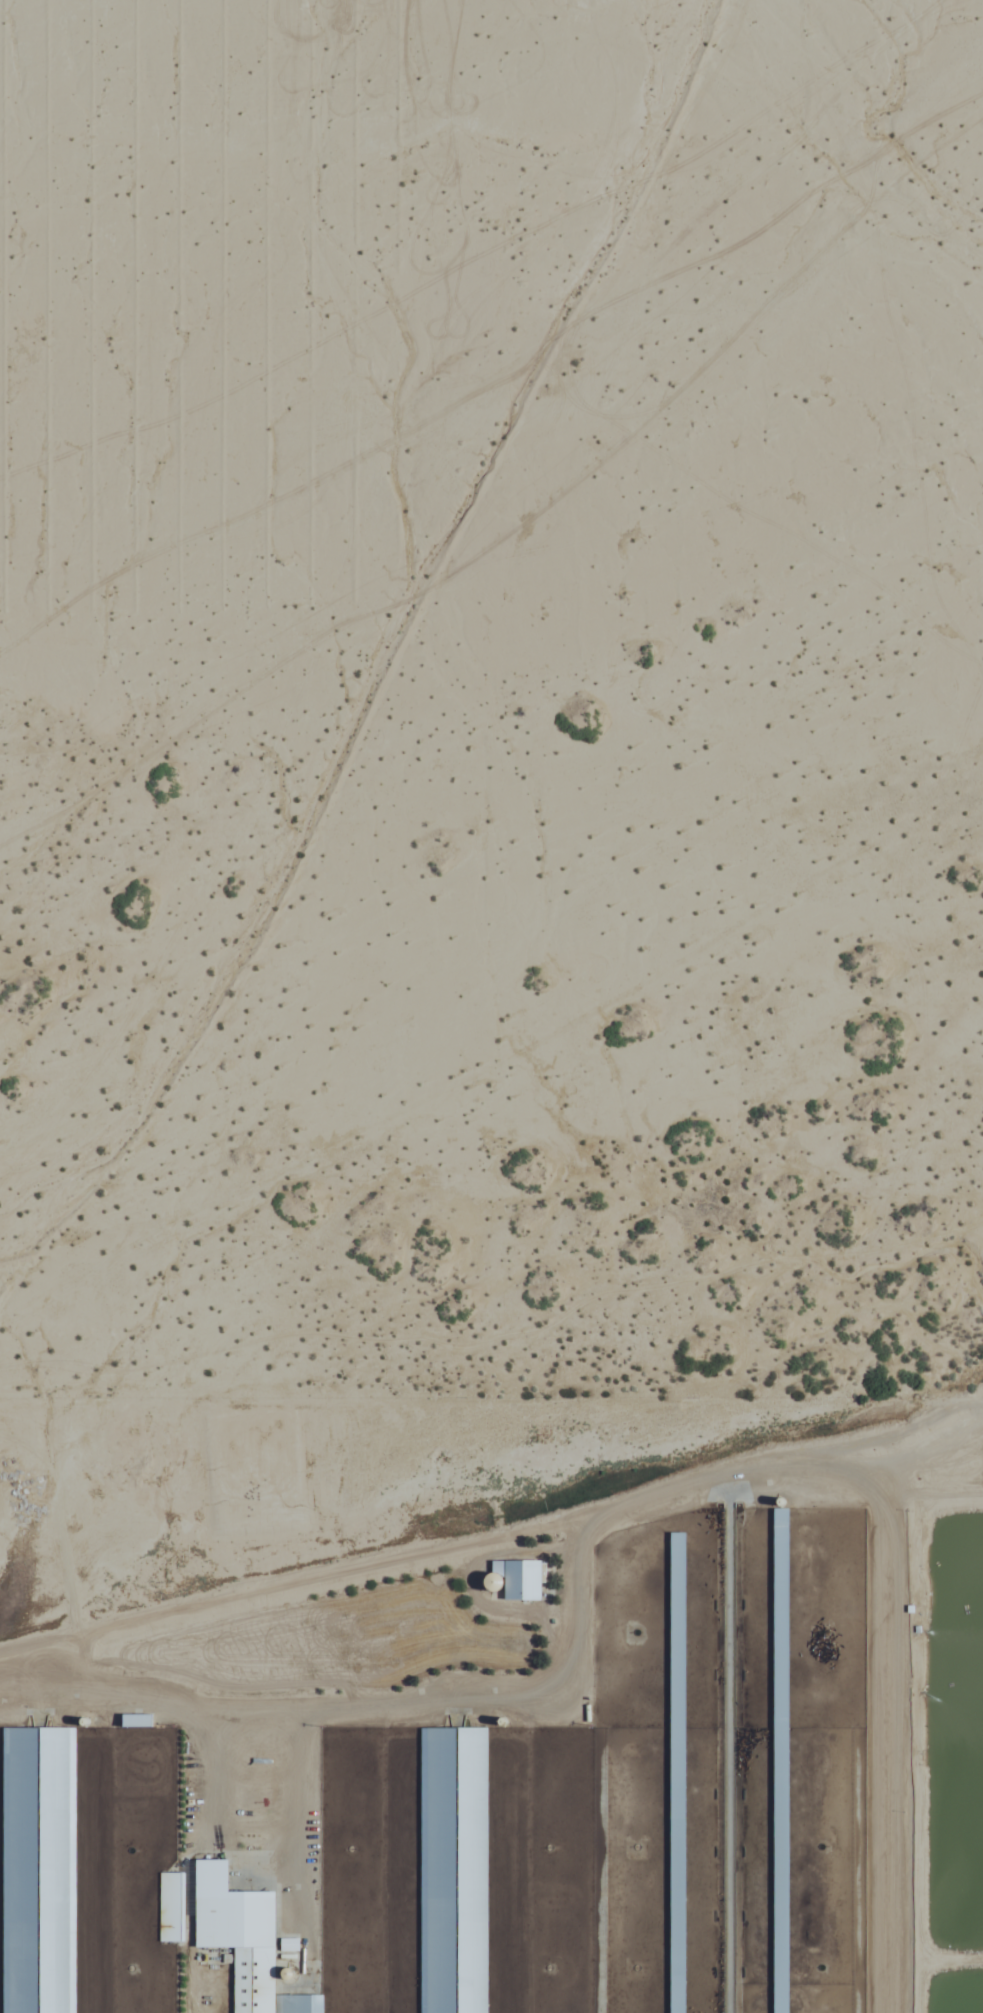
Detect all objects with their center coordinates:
road: (704, 1487)
building: (525, 1581)
crop: (532, 1760)
building: (775, 1761)
building: (671, 1772)
building: (32, 1870)
building: (451, 1870)
building: (168, 1908)
building: (239, 1941)

